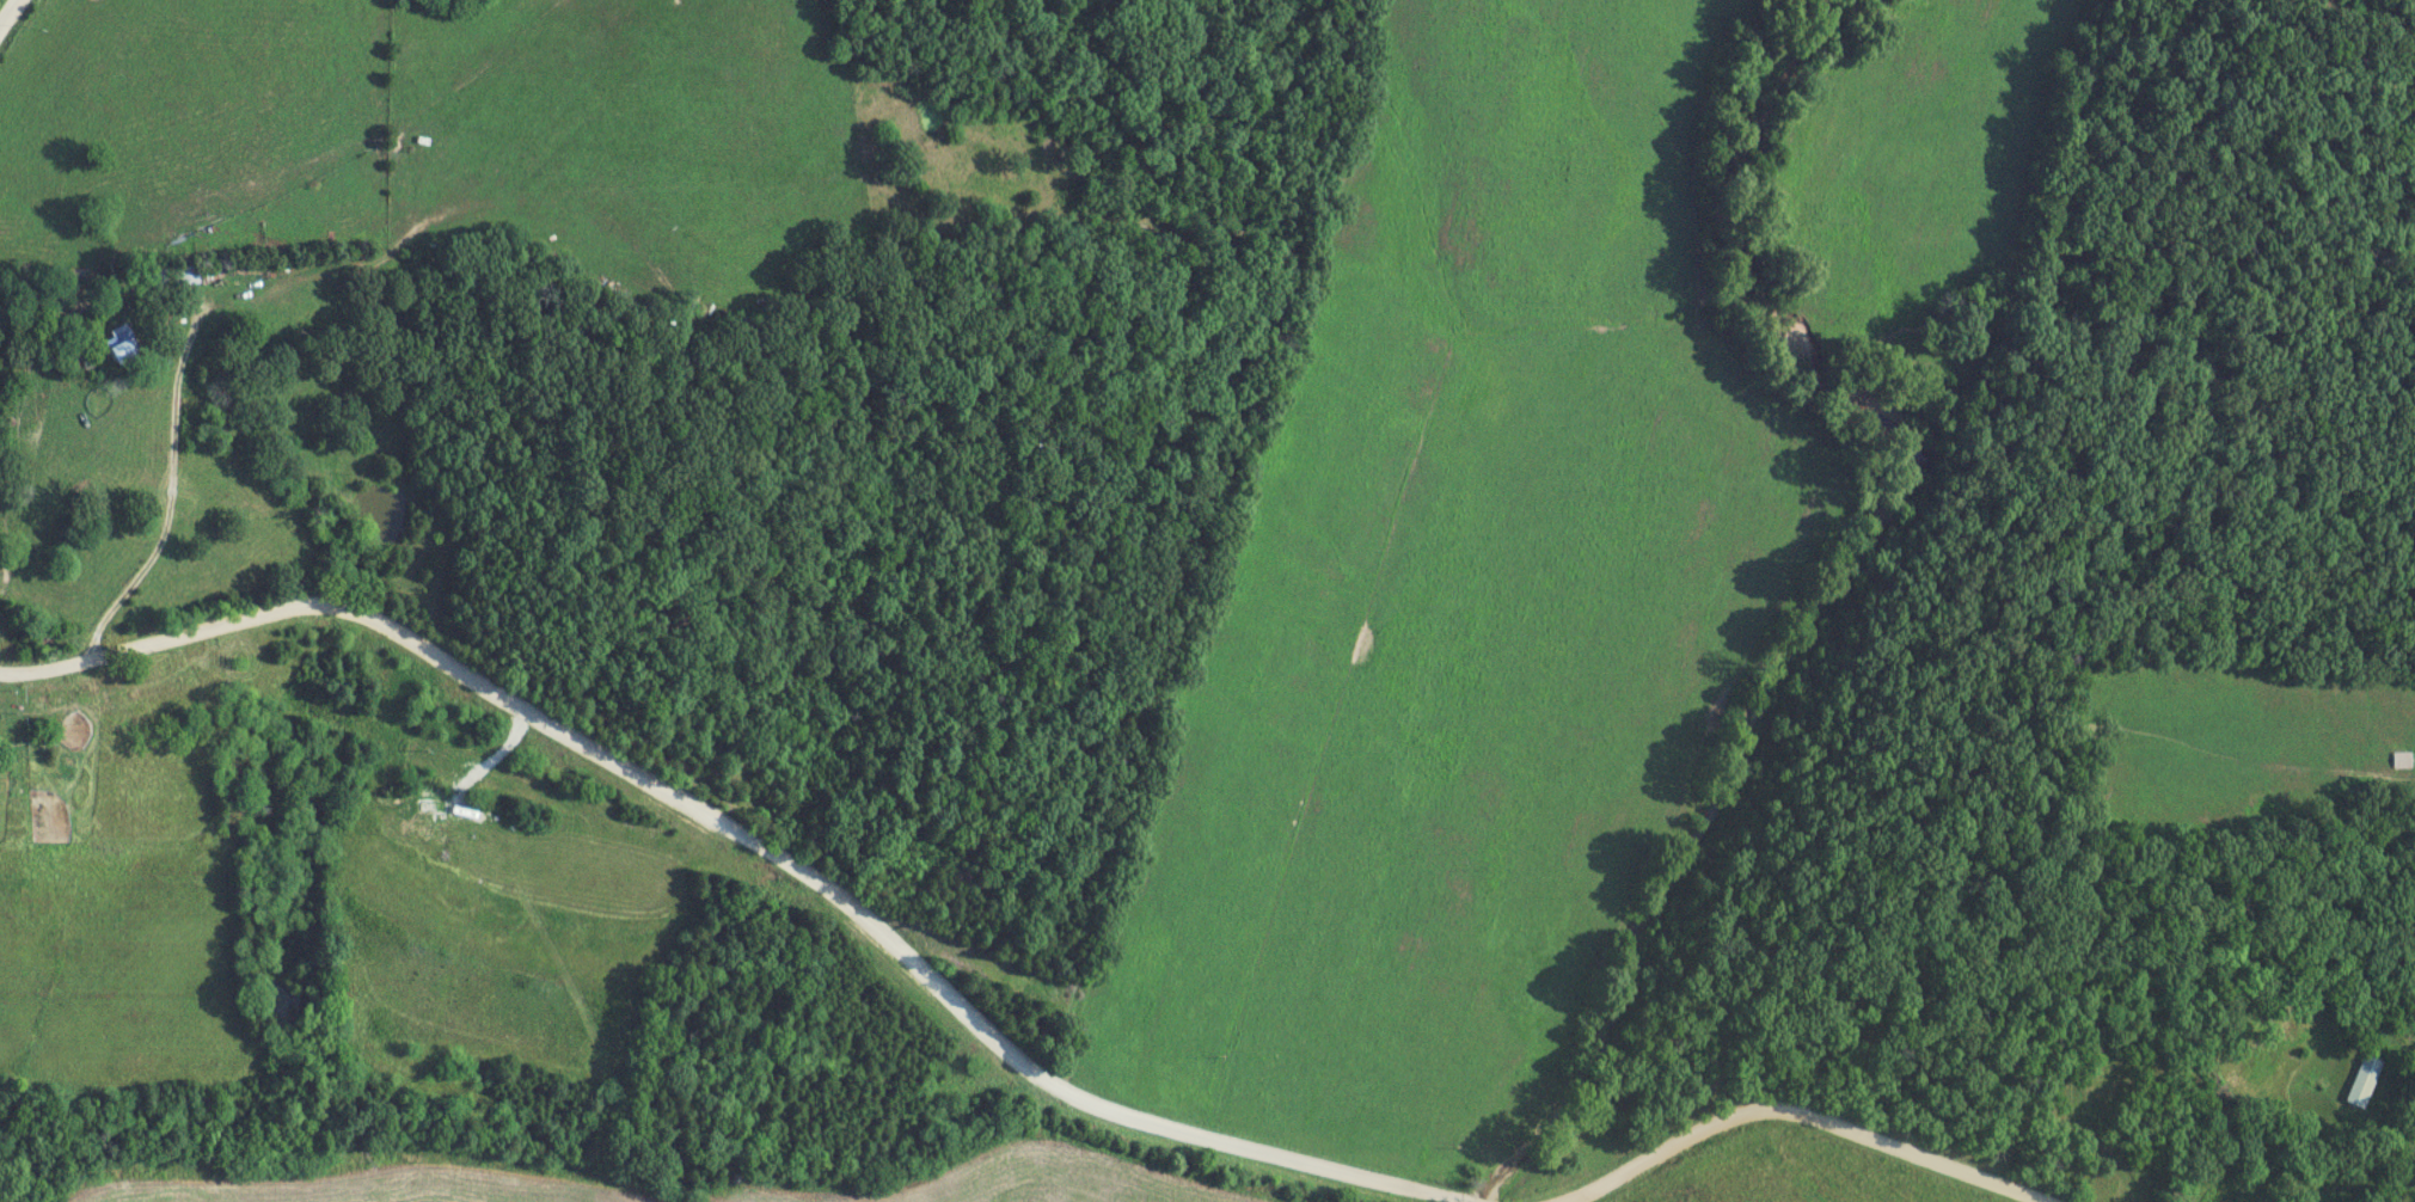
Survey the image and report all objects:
road: (5, 7)
building: (122, 344)
road: (161, 513)
building: (2401, 760)
road: (740, 841)
building: (2364, 1080)
road: (1786, 1114)
road: (2411, 1195)

